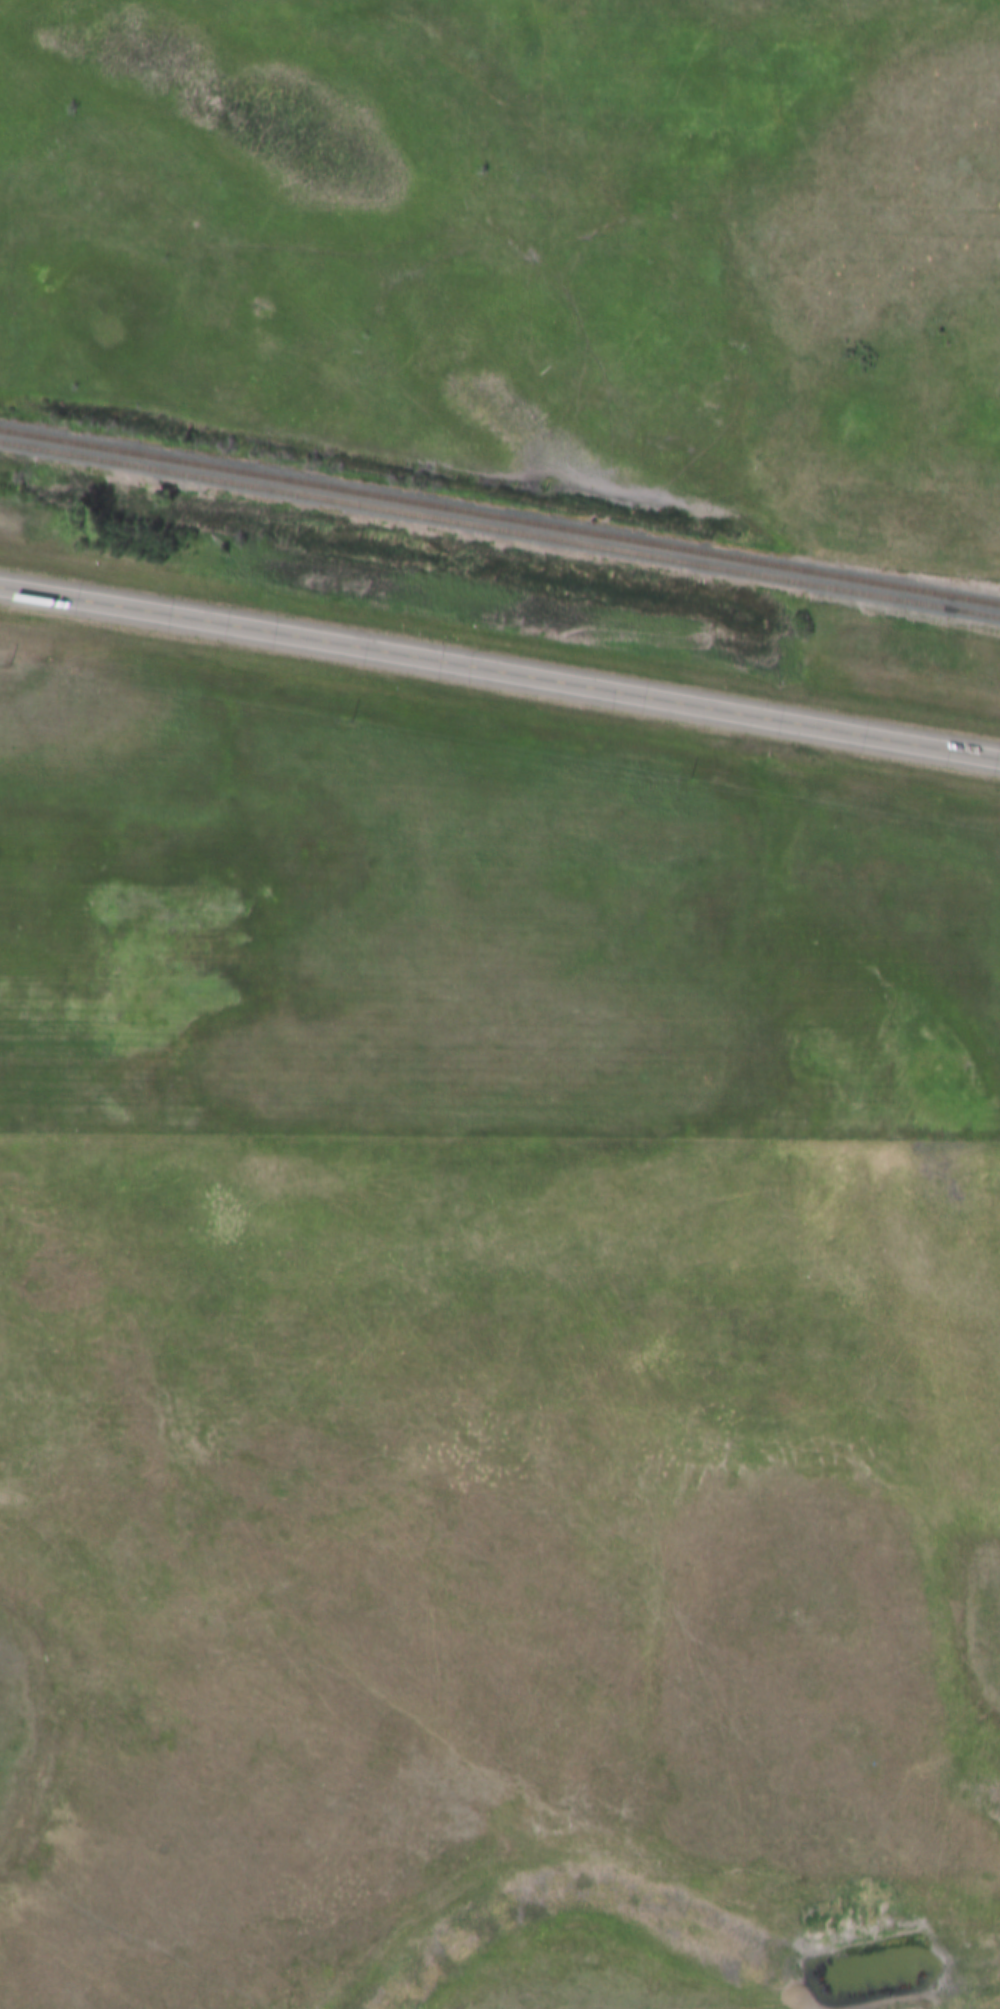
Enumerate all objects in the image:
railway: (500, 518)
railway: (500, 530)
road: (500, 672)

